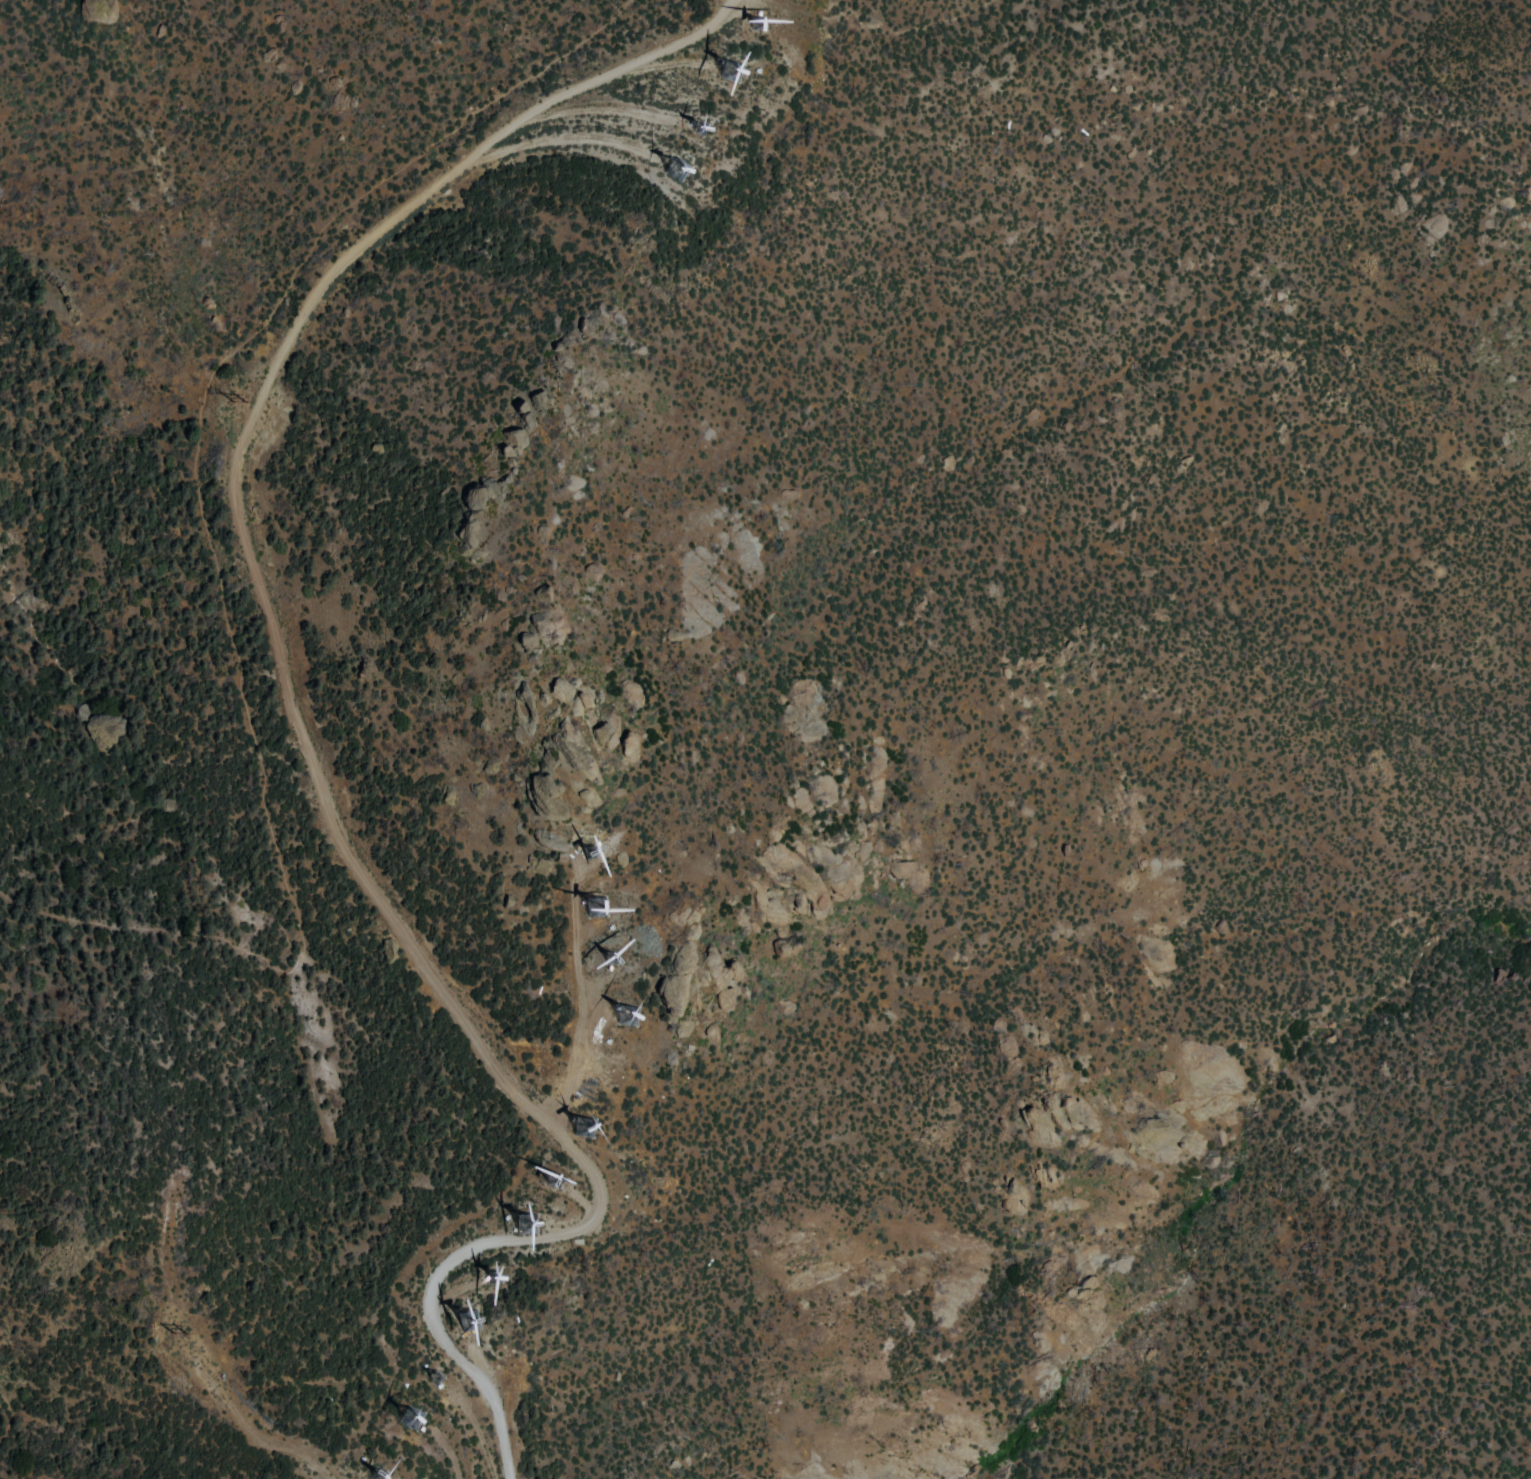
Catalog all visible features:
wind turbine: (756, 22)
wind turbine: (727, 67)
wind turbine: (696, 130)
wind turbine: (677, 170)
road: (209, 545)
building: (539, 595)
road: (296, 722)
wind turbine: (587, 853)
wind turbine: (594, 910)
wind turbine: (607, 962)
wind turbine: (624, 1021)
wind turbine: (611, 1083)
wind turbine: (581, 1125)
wind turbine: (557, 1179)
wind turbine: (518, 1215)
wind turbine: (492, 1272)
wind turbine: (462, 1318)
building: (467, 1320)
wind turbine: (427, 1374)
wind turbine: (406, 1416)
road: (9, 1422)
wind turbine: (372, 1474)

